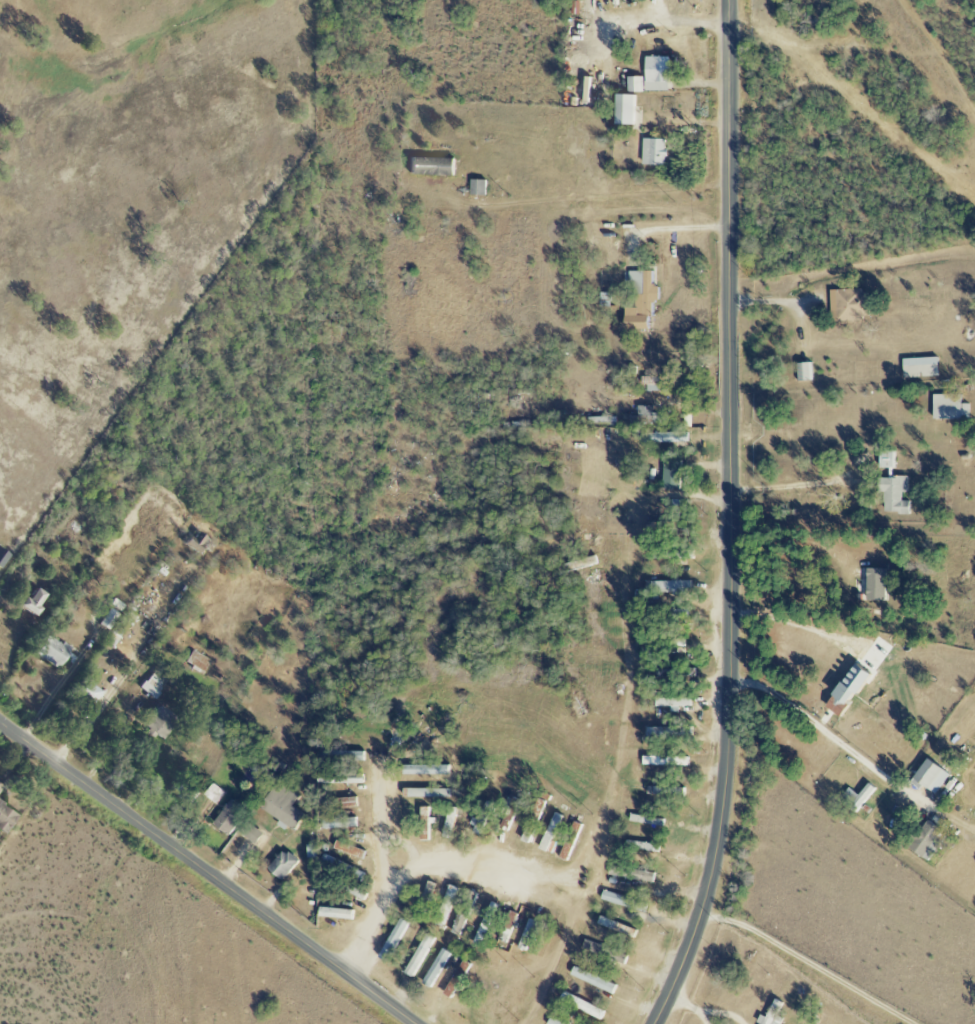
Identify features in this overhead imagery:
road: (676, 21)
building: (661, 73)
building: (624, 74)
building: (639, 84)
building: (629, 109)
building: (658, 151)
building: (436, 166)
building: (482, 187)
road: (667, 228)
building: (606, 299)
building: (644, 300)
road: (778, 302)
building: (850, 305)
building: (923, 367)
building: (806, 372)
building: (662, 383)
building: (952, 407)
building: (650, 414)
road: (794, 485)
building: (896, 487)
road: (729, 518)
building: (665, 528)
road: (795, 541)
building: (200, 542)
building: (673, 554)
building: (880, 584)
building: (670, 589)
building: (36, 602)
building: (109, 619)
road: (794, 623)
building: (121, 628)
building: (54, 650)
building: (199, 661)
building: (155, 683)
building: (853, 690)
building: (88, 691)
road: (108, 697)
building: (677, 702)
building: (162, 722)
building: (672, 731)
road: (832, 736)
building: (668, 761)
building: (428, 770)
building: (934, 776)
building: (1, 787)
building: (653, 790)
building: (185, 791)
building: (215, 793)
building: (428, 793)
building: (860, 798)
building: (287, 807)
building: (8, 816)
building: (230, 817)
building: (646, 820)
building: (343, 822)
building: (426, 823)
building: (554, 832)
building: (253, 833)
building: (929, 840)
building: (574, 841)
building: (643, 846)
building: (351, 849)
building: (322, 855)
road: (447, 864)
building: (286, 865)
road: (207, 873)
building: (634, 873)
road: (377, 875)
building: (627, 902)
building: (447, 905)
building: (340, 914)
building: (460, 921)
building: (487, 924)
building: (509, 927)
building: (620, 927)
building: (528, 934)
building: (396, 940)
building: (601, 949)
building: (422, 956)
road: (808, 963)
building: (438, 967)
building: (460, 979)
building: (596, 980)
road: (685, 1000)
building: (585, 1005)
road: (726, 1010)
building: (775, 1014)
road: (705, 1016)
building: (555, 1022)

